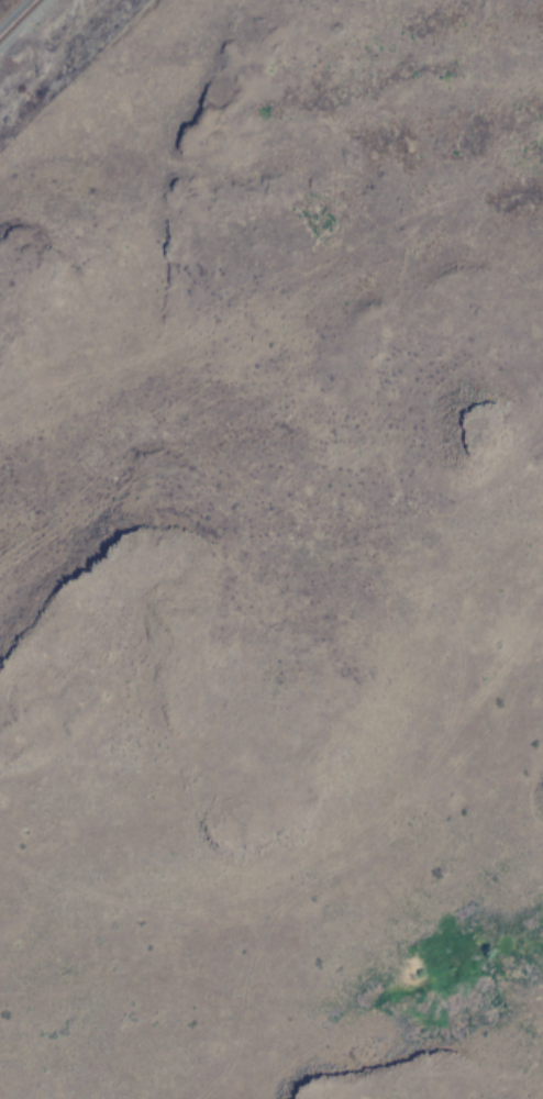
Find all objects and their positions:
railway: (25, 25)

